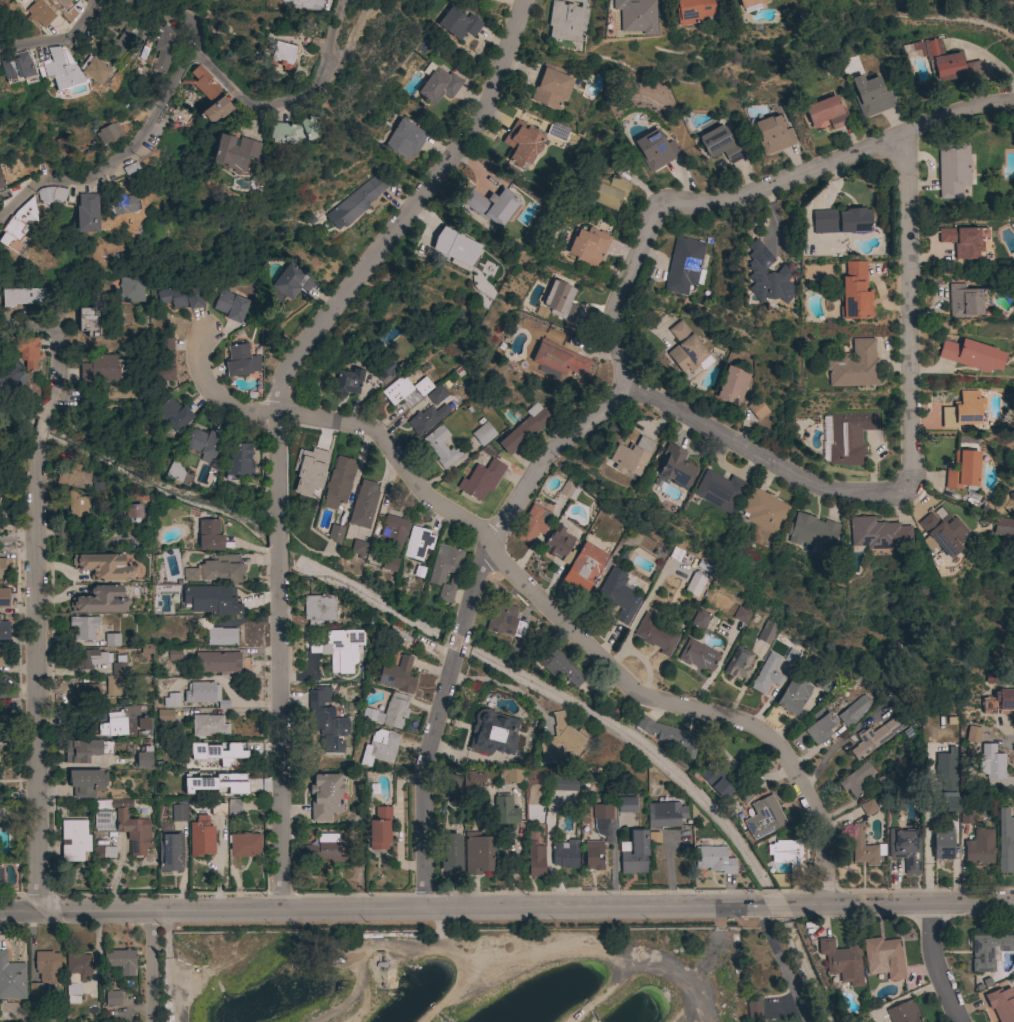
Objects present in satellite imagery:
building: (801, 0)
building: (119, 1)
building: (302, 3)
building: (64, 4)
building: (749, 5)
building: (692, 11)
building: (0, 12)
building: (39, 13)
building: (636, 16)
building: (567, 20)
road: (187, 22)
building: (56, 23)
building: (458, 24)
road: (331, 33)
road: (353, 36)
building: (119, 41)
road: (58, 42)
building: (162, 47)
building: (917, 48)
building: (283, 55)
building: (942, 61)
building: (972, 67)
building: (16, 68)
building: (71, 70)
building: (201, 82)
building: (438, 84)
building: (551, 87)
road: (165, 94)
building: (870, 96)
building: (215, 110)
building: (825, 113)
building: (293, 132)
building: (556, 133)
building: (106, 135)
building: (772, 135)
building: (404, 139)
building: (521, 144)
building: (719, 144)
building: (63, 148)
building: (654, 150)
building: (233, 152)
building: (952, 169)
building: (1, 186)
building: (605, 191)
building: (50, 194)
building: (355, 202)
building: (121, 204)
building: (491, 206)
building: (83, 215)
building: (842, 220)
building: (17, 223)
building: (962, 241)
building: (454, 246)
building: (587, 247)
road: (634, 257)
road: (371, 258)
building: (684, 266)
building: (766, 276)
building: (292, 281)
building: (130, 289)
building: (854, 292)
building: (21, 296)
building: (180, 298)
building: (965, 301)
building: (561, 302)
building: (230, 305)
building: (88, 322)
road: (25, 326)
building: (686, 349)
building: (23, 350)
building: (972, 355)
building: (558, 359)
building: (165, 360)
building: (240, 361)
building: (853, 365)
building: (100, 369)
building: (384, 370)
road: (56, 374)
building: (11, 376)
building: (348, 381)
building: (422, 386)
building: (732, 386)
building: (118, 392)
building: (400, 392)
building: (757, 409)
building: (964, 411)
building: (429, 412)
building: (173, 414)
road: (39, 425)
building: (523, 429)
building: (143, 430)
building: (483, 434)
building: (849, 436)
building: (203, 442)
building: (440, 446)
building: (630, 456)
building: (238, 461)
building: (1, 465)
road: (907, 466)
building: (672, 468)
building: (962, 470)
building: (174, 472)
building: (73, 475)
building: (481, 480)
building: (338, 482)
building: (717, 490)
building: (566, 491)
building: (304, 492)
building: (141, 494)
building: (76, 504)
building: (363, 505)
building: (762, 510)
building: (132, 511)
building: (535, 520)
building: (1003, 527)
building: (394, 529)
building: (811, 532)
building: (876, 533)
building: (941, 533)
building: (335, 534)
building: (209, 536)
building: (417, 543)
building: (559, 543)
road: (274, 544)
building: (358, 548)
building: (676, 554)
building: (389, 563)
building: (103, 567)
building: (2, 568)
building: (583, 568)
building: (221, 569)
building: (445, 570)
building: (189, 574)
building: (695, 584)
road: (534, 594)
building: (615, 596)
building: (4, 597)
building: (99, 600)
building: (210, 602)
building: (318, 609)
building: (741, 615)
building: (700, 618)
building: (504, 620)
building: (84, 627)
building: (3, 630)
building: (216, 633)
building: (766, 633)
building: (655, 634)
building: (399, 639)
building: (111, 640)
road: (455, 643)
building: (339, 649)
building: (174, 654)
building: (697, 655)
building: (1, 657)
building: (792, 657)
building: (88, 659)
building: (209, 661)
building: (738, 663)
building: (120, 666)
building: (560, 666)
road: (34, 673)
building: (766, 674)
building: (397, 675)
building: (992, 679)
building: (822, 683)
building: (113, 686)
road: (502, 686)
building: (81, 692)
building: (203, 694)
building: (793, 695)
building: (171, 699)
building: (1005, 701)
building: (854, 710)
building: (388, 712)
building: (164, 716)
building: (325, 718)
building: (122, 721)
building: (208, 726)
building: (820, 726)
building: (143, 727)
building: (492, 733)
building: (973, 734)
road: (1009, 734)
road: (274, 735)
building: (669, 736)
building: (875, 736)
building: (560, 740)
building: (379, 748)
road: (831, 748)
building: (85, 750)
building: (223, 756)
building: (143, 758)
building: (991, 762)
building: (510, 776)
building: (472, 778)
road: (423, 779)
building: (718, 779)
building: (947, 779)
building: (853, 781)
building: (886, 781)
building: (85, 782)
building: (450, 783)
building: (563, 783)
building: (224, 786)
building: (744, 794)
building: (4, 795)
building: (325, 796)
building: (626, 805)
building: (867, 807)
building: (217, 808)
building: (233, 808)
building: (504, 810)
building: (178, 811)
building: (602, 811)
building: (664, 814)
building: (965, 815)
building: (0, 816)
building: (763, 817)
building: (122, 825)
building: (379, 829)
building: (201, 837)
building: (75, 841)
building: (1005, 841)
building: (245, 845)
building: (943, 846)
building: (979, 847)
building: (864, 848)
building: (324, 849)
building: (905, 849)
building: (169, 851)
building: (450, 852)
building: (108, 853)
building: (477, 853)
building: (634, 853)
building: (786, 853)
building: (564, 854)
building: (593, 855)
building: (534, 859)
building: (714, 860)
building: (0, 874)
road: (758, 905)
road: (774, 905)
road: (899, 905)
road: (375, 910)
building: (988, 951)
building: (883, 956)
building: (120, 961)
building: (841, 961)
road: (777, 963)
road: (931, 965)
building: (47, 967)
road: (159, 968)
building: (76, 974)
park: (461, 975)
building: (11, 979)
building: (34, 989)
building: (112, 998)
building: (1002, 1005)
building: (753, 1009)
building: (903, 1012)

